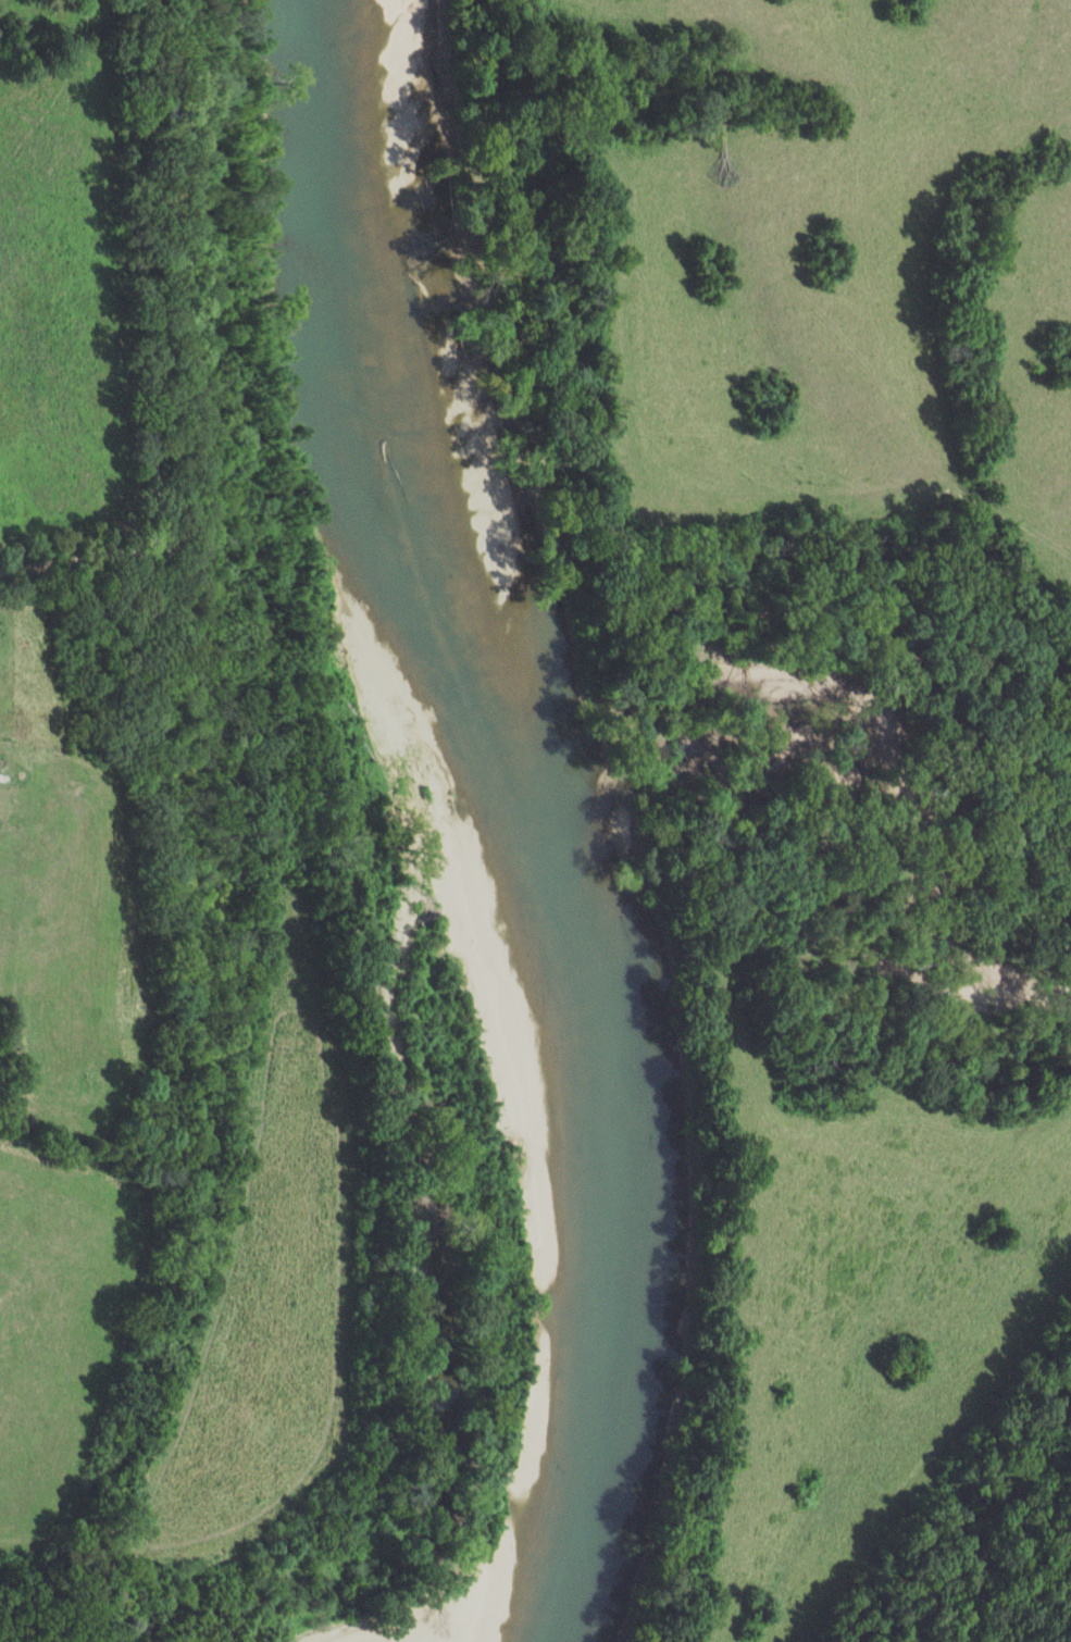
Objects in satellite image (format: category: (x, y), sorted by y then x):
road: (141, 346)
road: (673, 526)
river: (543, 811)

